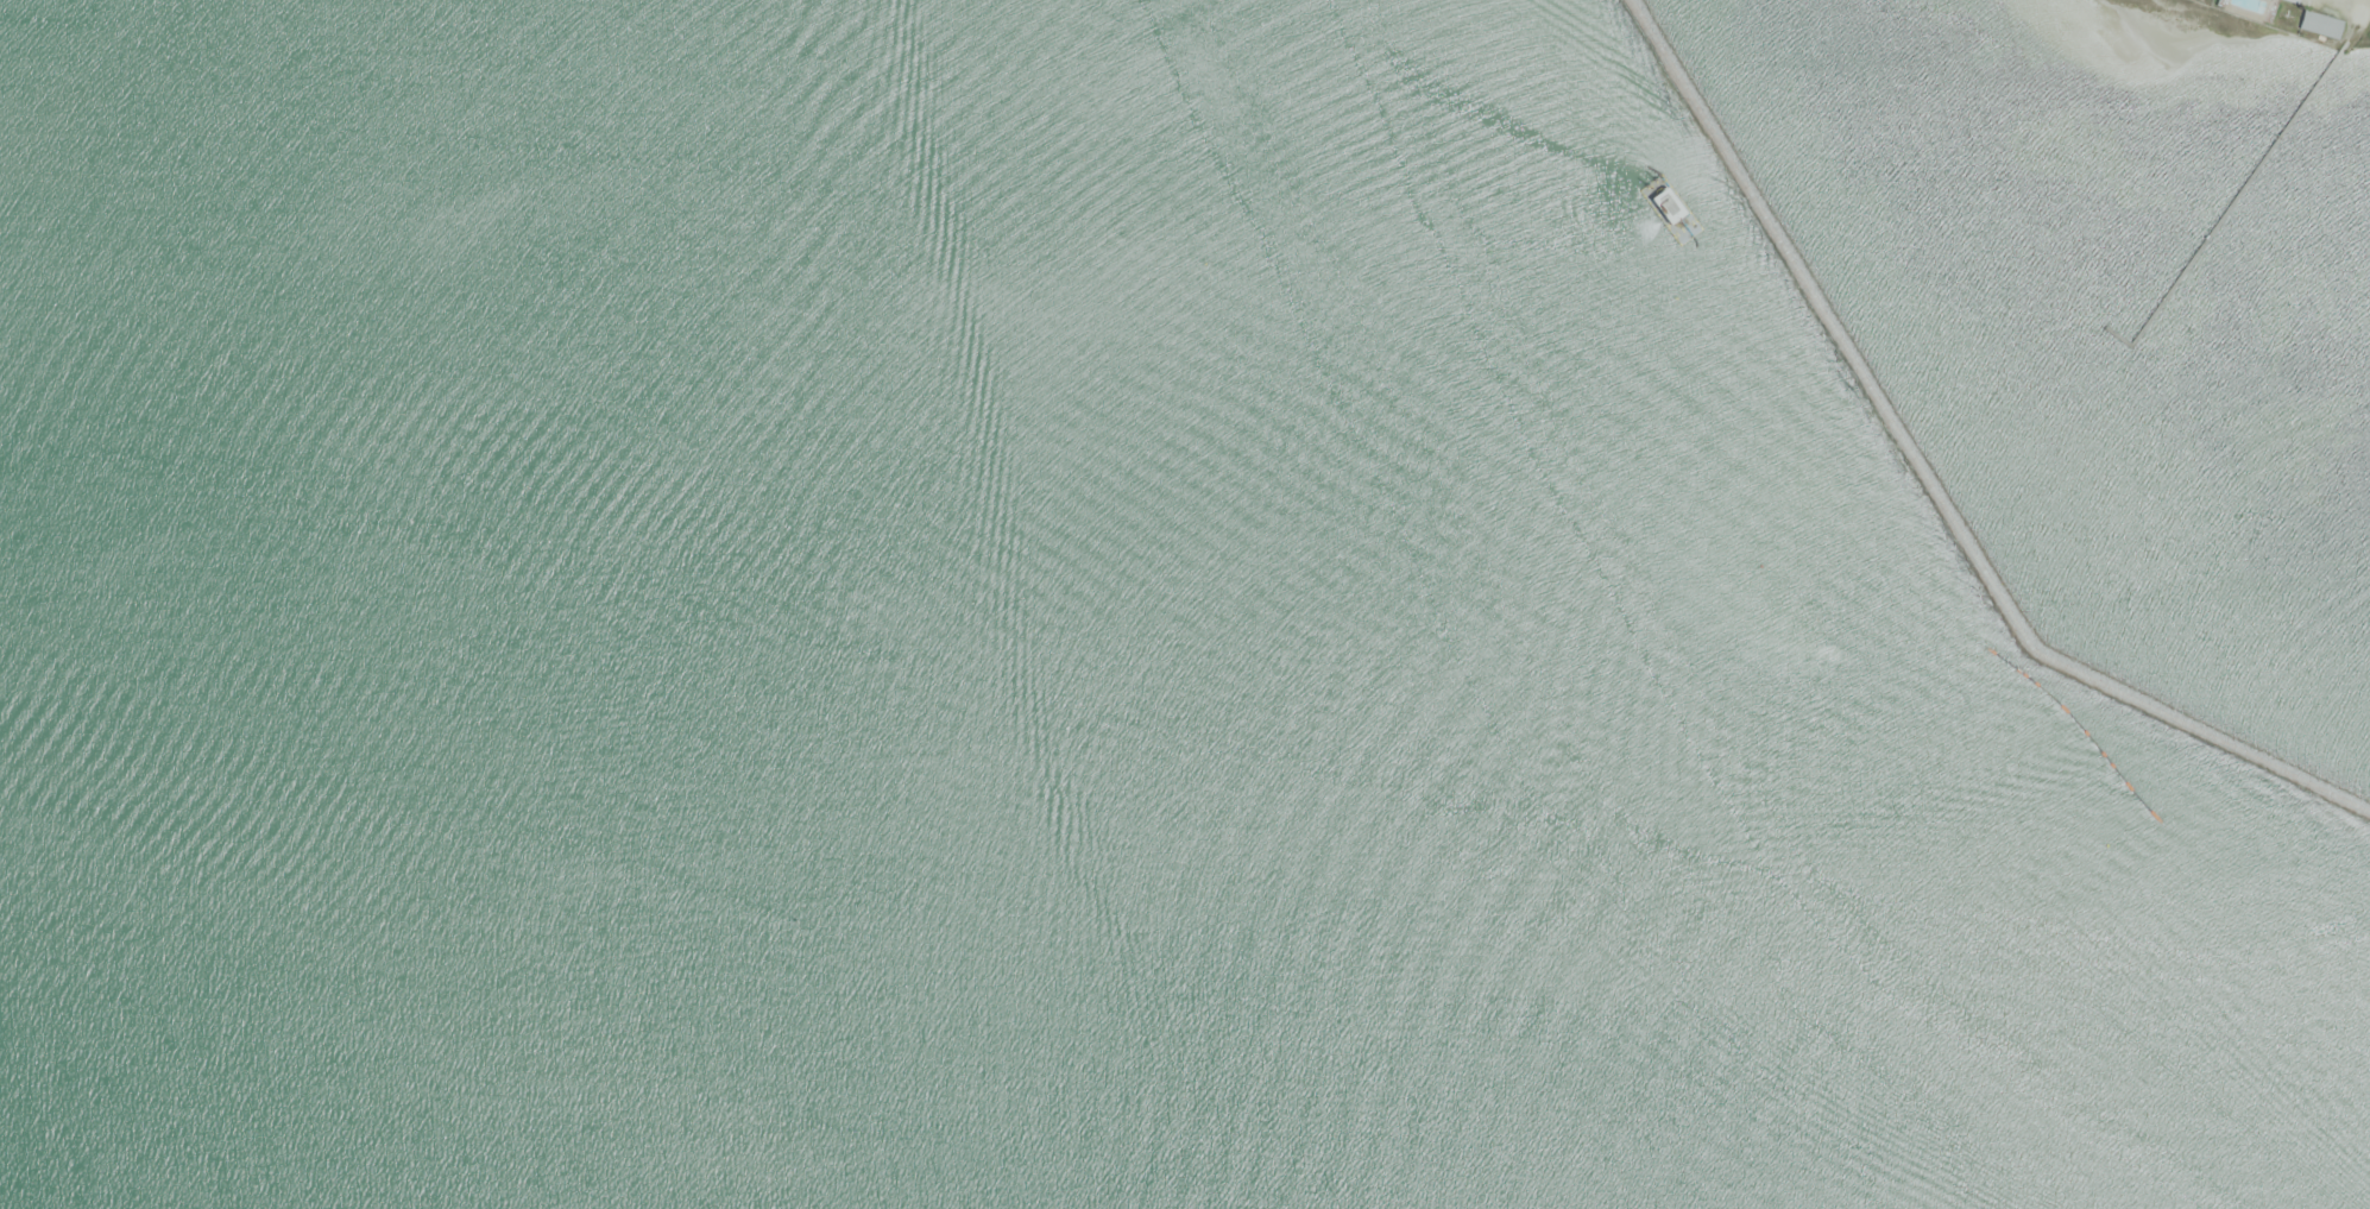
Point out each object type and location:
building: (2321, 23)

